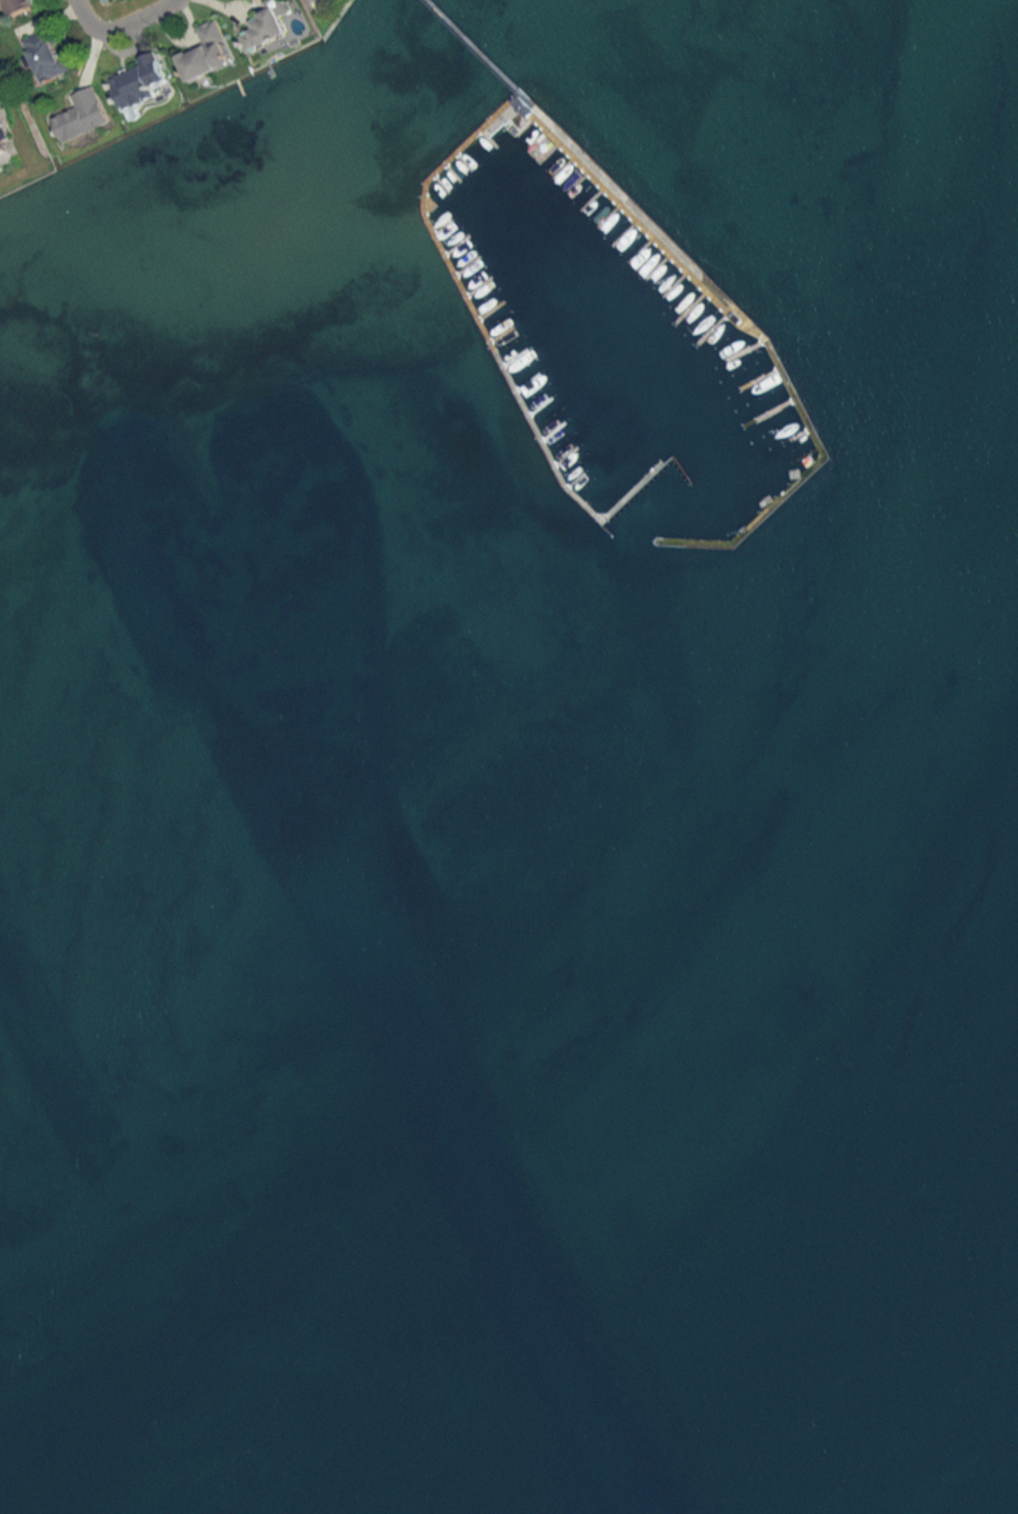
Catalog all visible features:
building: (18, 6)
road: (121, 25)
building: (270, 25)
pier: (471, 45)
building: (207, 52)
building: (49, 55)
building: (143, 77)

